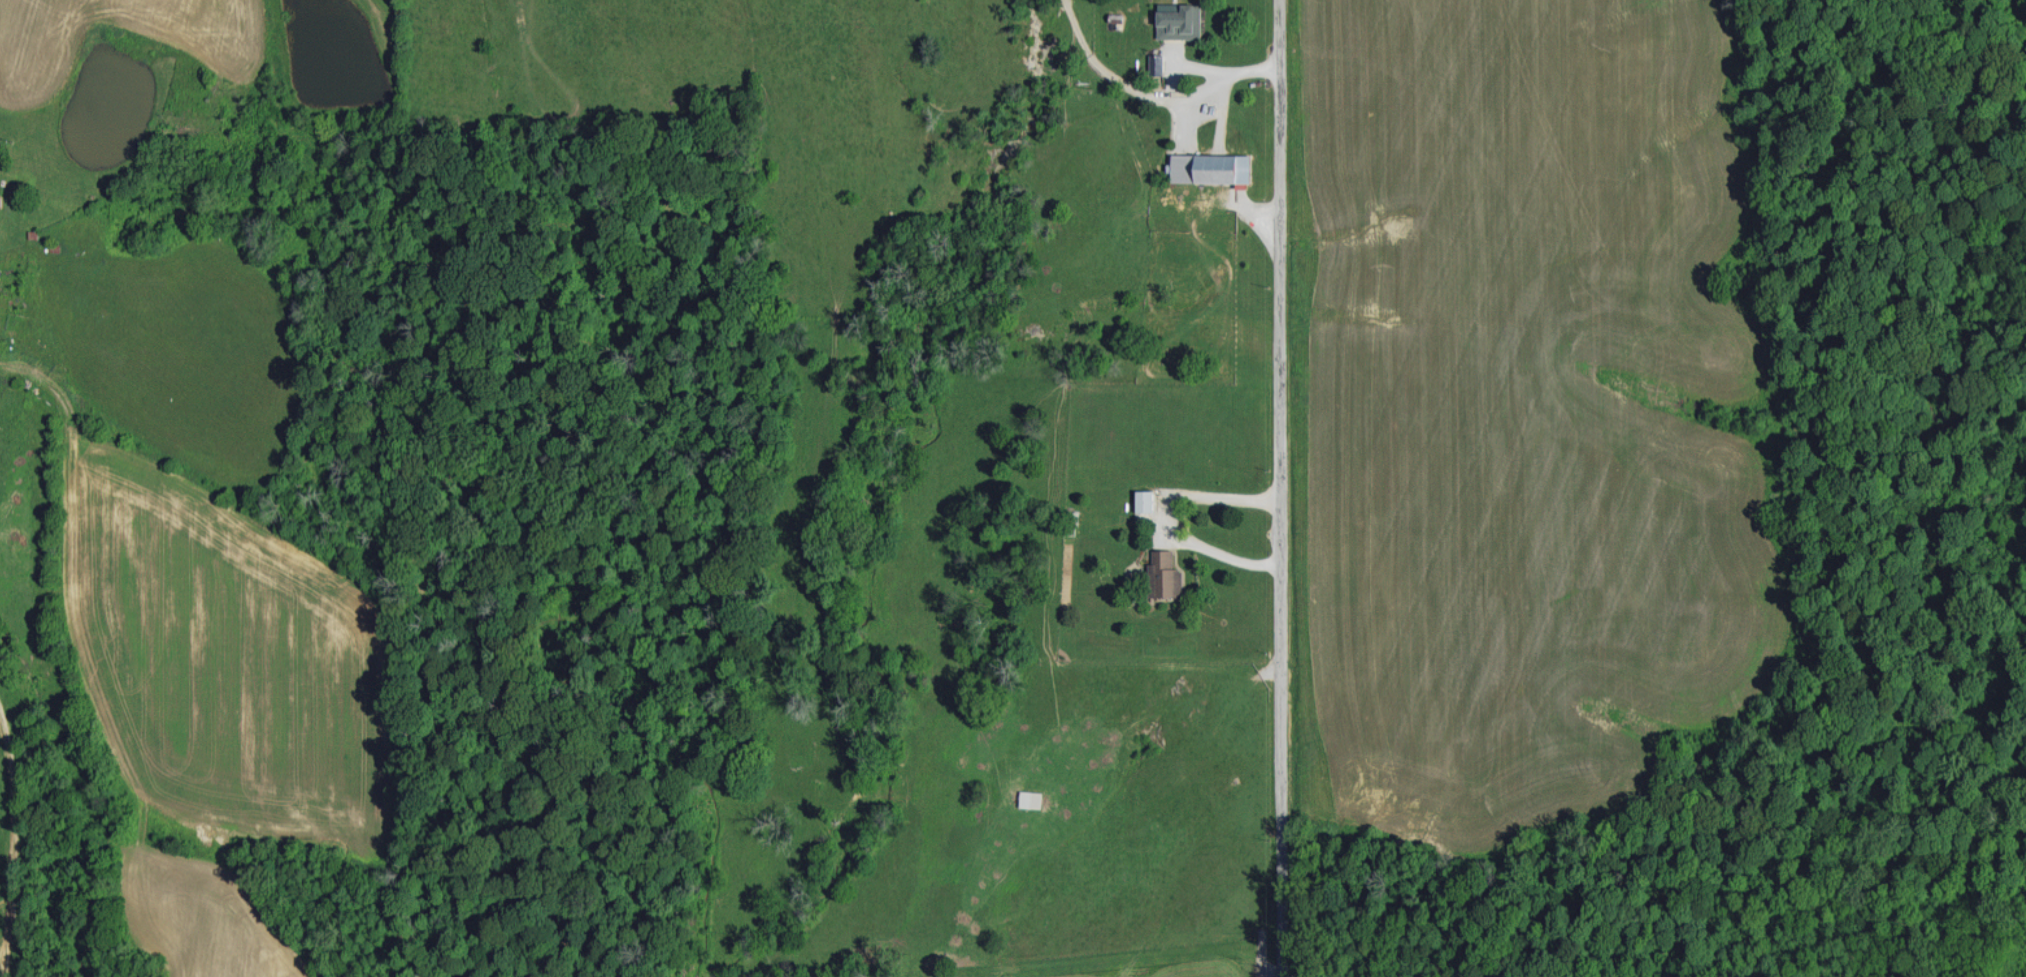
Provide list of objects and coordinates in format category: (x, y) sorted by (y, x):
building: (1181, 22)
building: (1157, 63)
road: (1151, 94)
building: (1211, 168)
road: (1279, 488)
building: (1145, 501)
road: (1165, 516)
building: (1165, 576)
building: (1032, 798)

